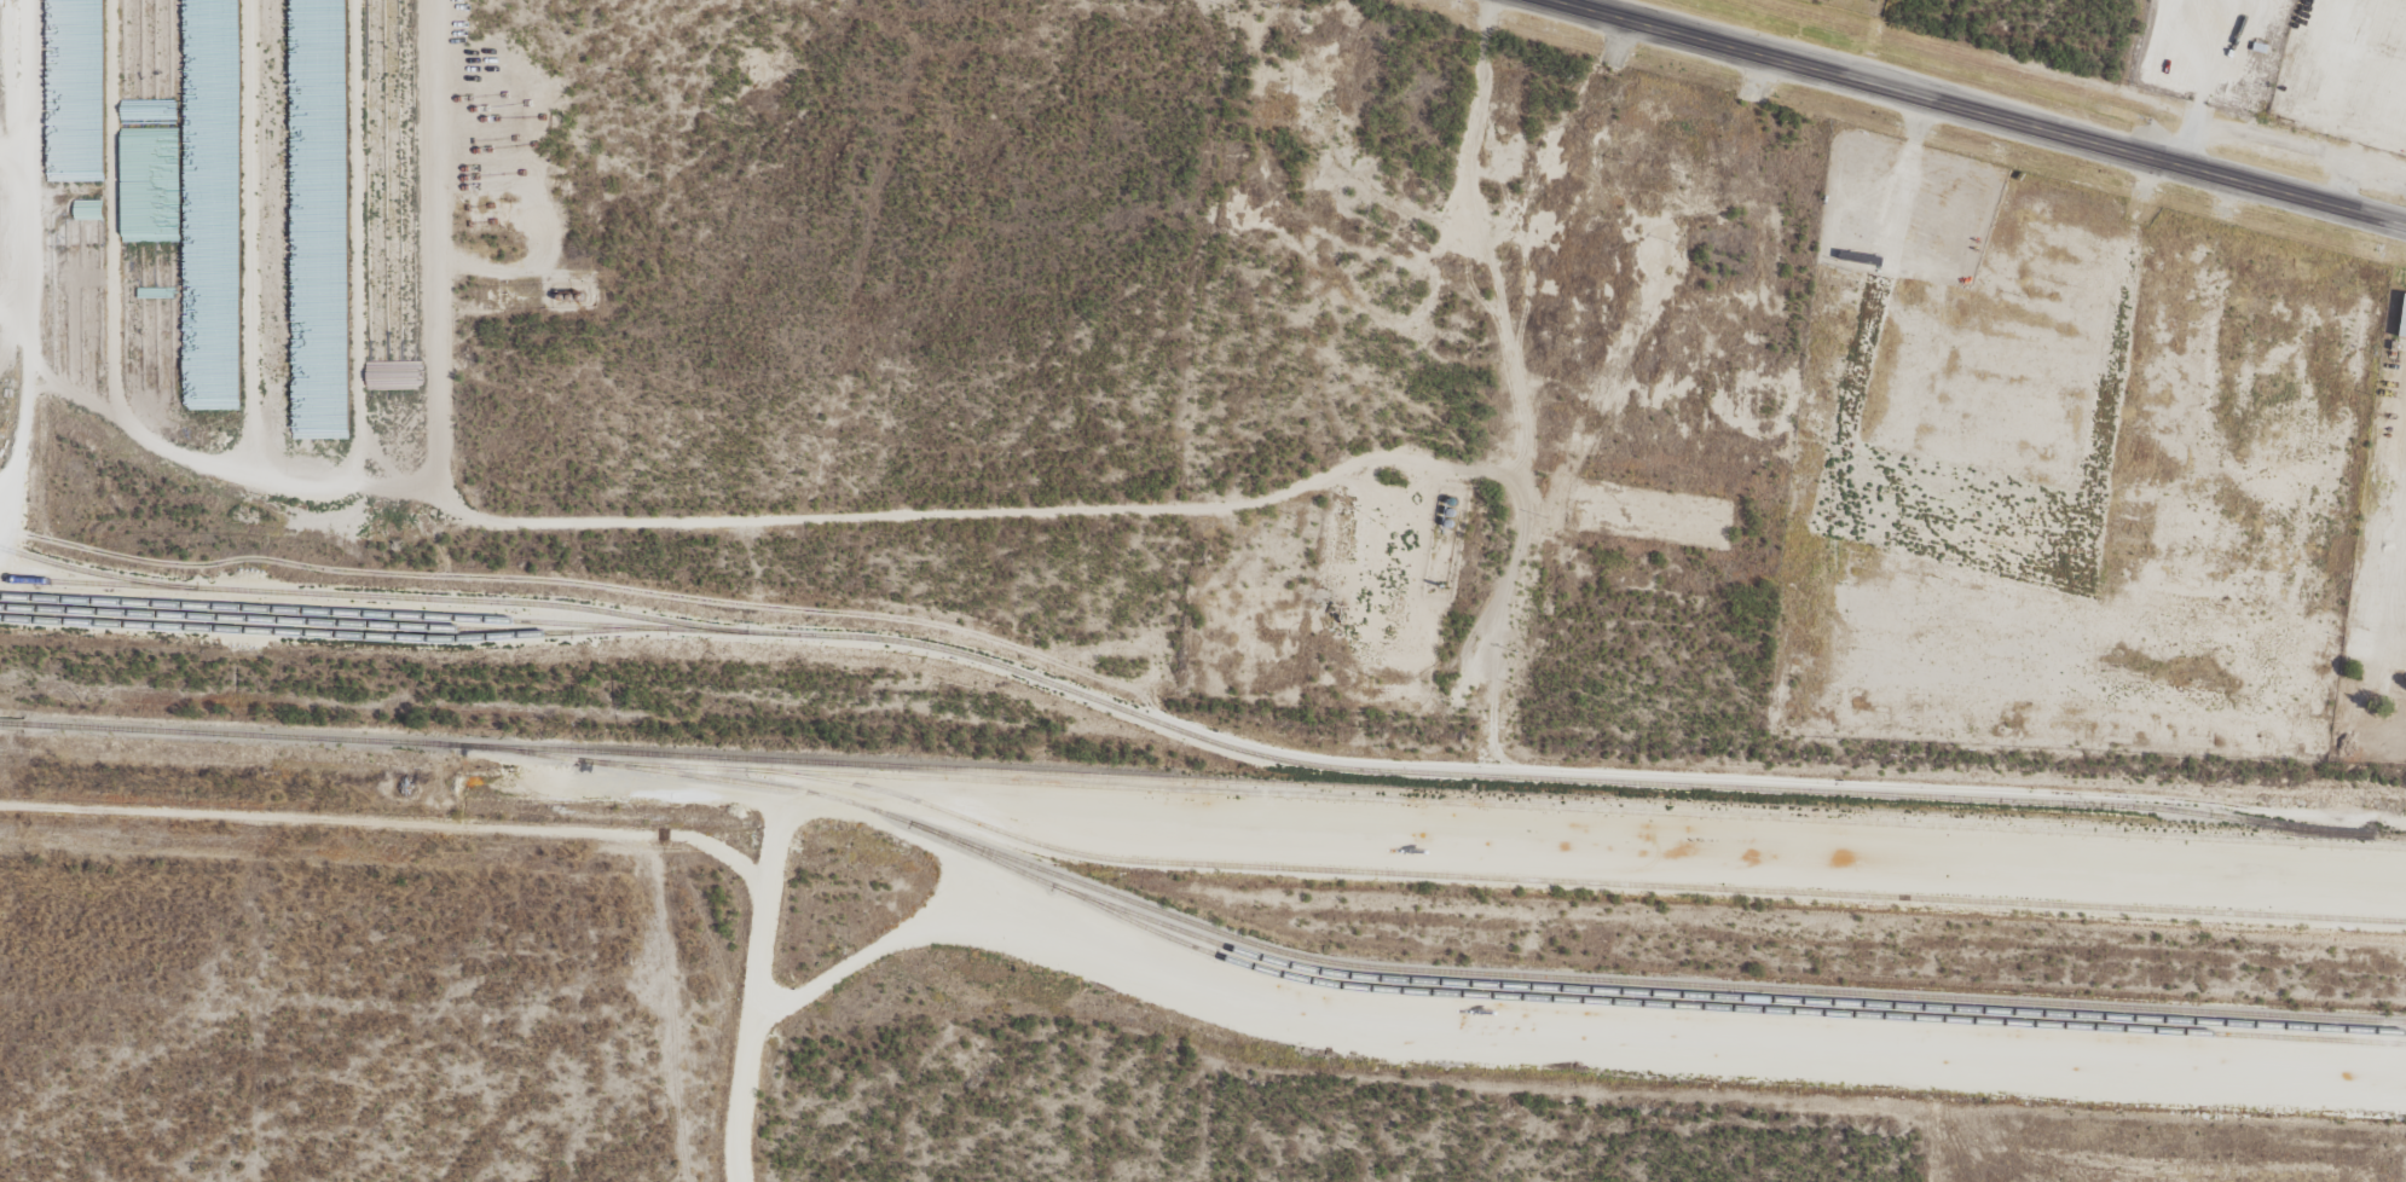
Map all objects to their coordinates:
road: (1945, 116)
building: (2405, 331)
road: (1470, 337)
railway: (1203, 780)
road: (1203, 863)
road: (750, 1012)

